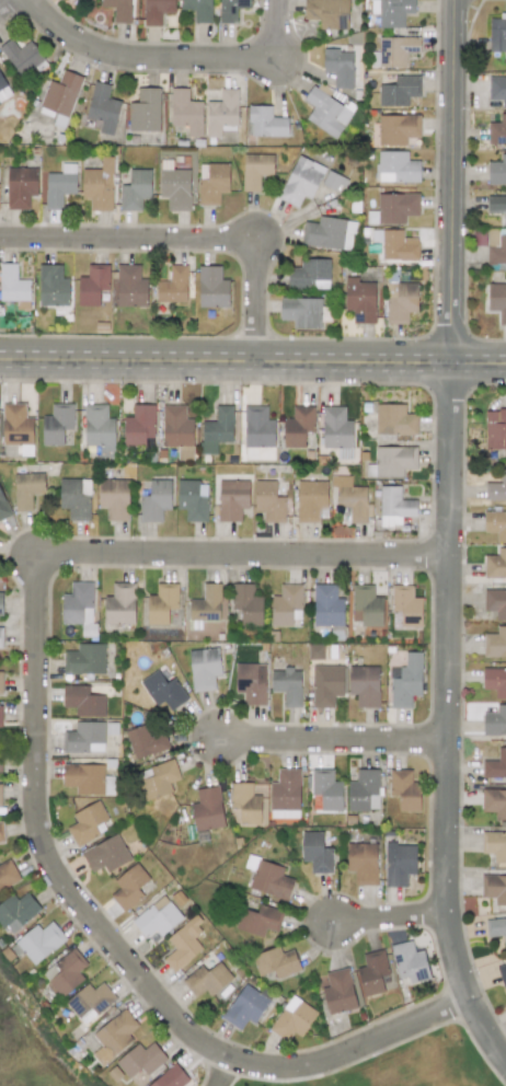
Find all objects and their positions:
road: (4, 4)
building: (118, 9)
building: (197, 9)
building: (231, 10)
building: (157, 11)
building: (394, 12)
building: (327, 13)
building: (497, 34)
building: (395, 50)
building: (21, 56)
road: (172, 59)
building: (338, 67)
building: (497, 89)
building: (3, 91)
building: (399, 91)
building: (60, 97)
building: (103, 107)
building: (145, 111)
building: (185, 112)
building: (221, 112)
building: (326, 113)
building: (265, 123)
building: (398, 129)
building: (497, 131)
building: (395, 166)
building: (255, 170)
building: (497, 171)
building: (300, 181)
road: (455, 181)
building: (212, 183)
building: (59, 185)
building: (99, 185)
building: (20, 186)
building: (135, 189)
building: (496, 206)
building: (394, 208)
building: (327, 233)
road: (187, 241)
building: (398, 246)
building: (497, 251)
building: (310, 274)
building: (93, 285)
building: (53, 286)
building: (173, 286)
building: (13, 287)
building: (129, 287)
building: (211, 287)
building: (359, 300)
building: (497, 300)
building: (400, 301)
building: (301, 312)
road: (226, 359)
road: (480, 361)
building: (394, 419)
building: (57, 424)
building: (16, 425)
building: (138, 425)
building: (298, 426)
building: (176, 427)
building: (335, 428)
building: (99, 429)
building: (495, 429)
building: (216, 430)
building: (256, 432)
building: (393, 460)
building: (496, 488)
building: (27, 489)
building: (76, 497)
building: (114, 498)
building: (350, 498)
building: (232, 499)
building: (310, 499)
building: (154, 500)
building: (193, 500)
building: (268, 501)
building: (394, 506)
building: (3, 507)
building: (495, 524)
building: (495, 564)
building: (495, 602)
building: (1, 603)
building: (77, 603)
building: (161, 603)
building: (206, 603)
building: (119, 604)
building: (246, 604)
building: (287, 604)
building: (326, 605)
building: (366, 605)
building: (406, 605)
building: (1, 637)
building: (495, 643)
building: (315, 651)
building: (84, 659)
building: (204, 668)
building: (0, 681)
building: (495, 681)
building: (406, 682)
building: (250, 684)
building: (326, 684)
building: (287, 685)
building: (364, 685)
building: (163, 691)
building: (83, 701)
road: (451, 714)
building: (0, 716)
building: (495, 721)
building: (84, 738)
road: (337, 741)
building: (146, 742)
building: (0, 761)
building: (495, 765)
road: (37, 767)
building: (88, 778)
building: (159, 778)
building: (404, 789)
building: (325, 790)
building: (364, 790)
building: (285, 794)
building: (0, 798)
building: (245, 802)
building: (494, 802)
building: (207, 809)
building: (87, 822)
building: (1, 833)
building: (494, 845)
building: (315, 853)
building: (106, 854)
building: (361, 862)
building: (399, 864)
building: (7, 874)
building: (269, 880)
building: (128, 887)
building: (494, 888)
building: (16, 912)
building: (157, 917)
road: (393, 919)
building: (258, 921)
building: (496, 928)
building: (41, 941)
building: (183, 944)
building: (276, 962)
building: (410, 962)
building: (66, 972)
building: (372, 972)
building: (502, 973)
building: (207, 980)
building: (338, 992)
building: (90, 1002)
building: (245, 1006)
building: (292, 1018)
building: (114, 1036)
building: (140, 1060)
park: (417, 1066)
road: (225, 1072)
building: (171, 1077)

